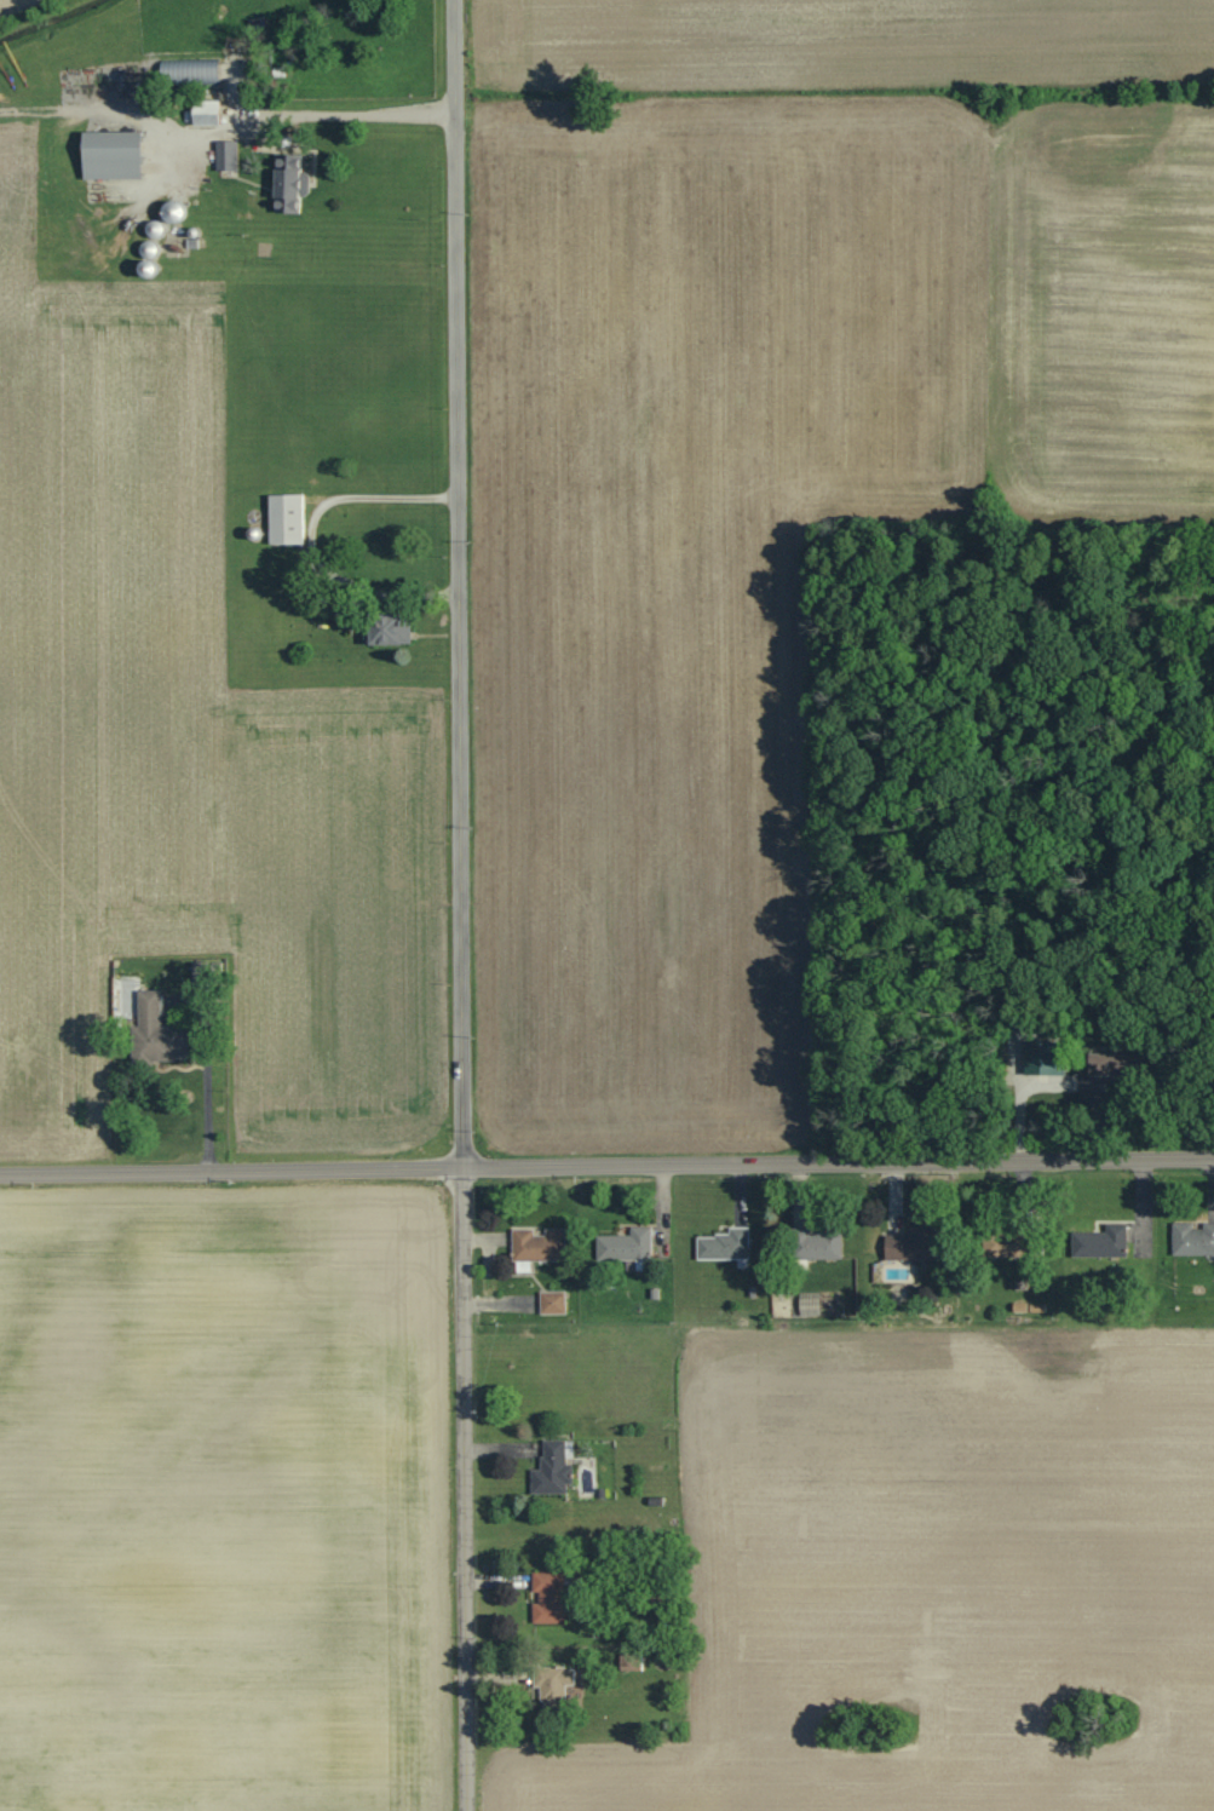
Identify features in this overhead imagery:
building: (208, 113)
road: (349, 116)
building: (114, 154)
building: (228, 154)
building: (290, 183)
building: (287, 519)
road: (311, 540)
building: (390, 631)
road: (461, 904)
building: (202, 972)
building: (159, 1031)
building: (1036, 1057)
building: (1117, 1063)
road: (212, 1111)
road: (606, 1166)
building: (1191, 1236)
building: (1099, 1240)
building: (813, 1242)
building: (910, 1242)
building: (540, 1244)
building: (1015, 1244)
building: (726, 1246)
building: (628, 1247)
building: (553, 1303)
building: (554, 1468)
building: (548, 1598)
building: (556, 1689)

